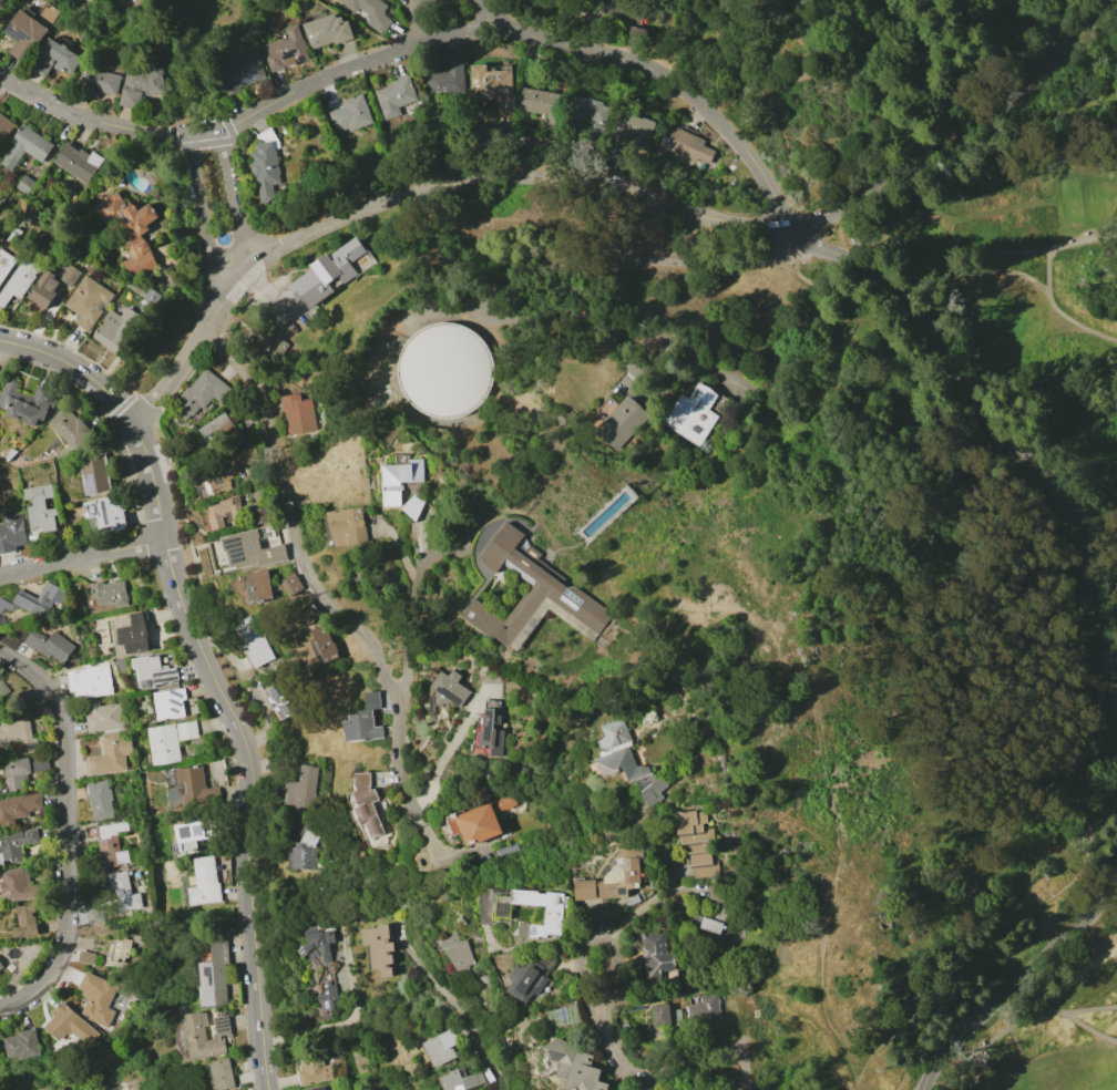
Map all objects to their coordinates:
building: (100, 0)
building: (134, 8)
building: (369, 11)
building: (619, 11)
road: (489, 16)
road: (414, 22)
building: (29, 30)
building: (327, 31)
road: (208, 34)
building: (634, 34)
road: (419, 44)
building: (286, 51)
building: (55, 59)
building: (242, 72)
building: (447, 78)
building: (100, 83)
building: (141, 85)
building: (493, 88)
road: (935, 90)
building: (396, 96)
building: (544, 106)
road: (779, 111)
building: (585, 112)
building: (350, 114)
building: (6, 127)
building: (633, 127)
road: (961, 137)
road: (542, 142)
building: (25, 147)
building: (693, 147)
building: (78, 158)
building: (266, 164)
building: (24, 184)
road: (412, 193)
road: (234, 199)
road: (199, 213)
building: (131, 230)
road: (848, 232)
fountain: (223, 237)
building: (6, 264)
road: (951, 266)
road: (546, 267)
building: (92, 268)
building: (327, 272)
building: (70, 277)
road: (1048, 279)
building: (20, 280)
park: (1024, 291)
building: (43, 295)
building: (150, 299)
road: (267, 299)
building: (88, 301)
road: (441, 313)
building: (114, 332)
building: (273, 346)
road: (153, 359)
road: (74, 368)
building: (444, 369)
building: (638, 371)
building: (0, 379)
building: (199, 393)
building: (20, 405)
building: (693, 413)
building: (295, 415)
building: (623, 422)
building: (70, 426)
building: (215, 426)
road: (995, 432)
building: (253, 455)
building: (96, 474)
building: (401, 479)
road: (152, 481)
building: (216, 481)
building: (414, 506)
building: (40, 508)
building: (226, 512)
building: (106, 513)
building: (259, 515)
building: (348, 526)
building: (11, 532)
building: (255, 548)
road: (80, 555)
road: (173, 577)
road: (312, 584)
building: (294, 585)
building: (262, 587)
building: (110, 594)
building: (532, 595)
building: (43, 600)
road: (409, 606)
building: (134, 635)
building: (252, 641)
building: (326, 641)
building: (50, 646)
building: (120, 666)
road: (1064, 666)
road: (207, 671)
building: (153, 672)
building: (90, 680)
building: (451, 689)
building: (4, 693)
building: (279, 702)
building: (170, 703)
building: (104, 717)
building: (366, 720)
building: (187, 730)
building: (493, 732)
building: (19, 736)
building: (163, 743)
road: (449, 750)
building: (109, 754)
building: (626, 762)
building: (22, 769)
building: (191, 788)
building: (299, 791)
building: (101, 799)
building: (369, 804)
building: (19, 808)
building: (480, 821)
road: (69, 832)
building: (189, 834)
building: (697, 841)
building: (16, 844)
building: (112, 844)
building: (306, 850)
building: (510, 854)
building: (615, 877)
building: (206, 882)
building: (19, 884)
building: (122, 892)
building: (717, 893)
road: (647, 905)
road: (248, 907)
building: (724, 907)
building: (553, 912)
road: (416, 919)
building: (25, 921)
building: (714, 925)
building: (137, 938)
road: (600, 943)
building: (124, 947)
building: (378, 950)
building: (459, 953)
building: (109, 954)
building: (657, 957)
building: (84, 959)
building: (1, 965)
building: (322, 966)
building: (10, 967)
building: (0, 969)
building: (215, 974)
building: (532, 974)
road: (1016, 981)
road: (746, 987)
building: (95, 995)
road: (1087, 1008)
building: (662, 1015)
building: (704, 1017)
park: (1047, 1020)
road: (1013, 1022)
building: (69, 1025)
road: (1086, 1026)
building: (205, 1035)
building: (22, 1045)
building: (442, 1047)
road: (482, 1053)
building: (314, 1066)
building: (574, 1066)
road: (631, 1068)
building: (223, 1073)
building: (463, 1080)
building: (318, 1089)
building: (643, 1089)

